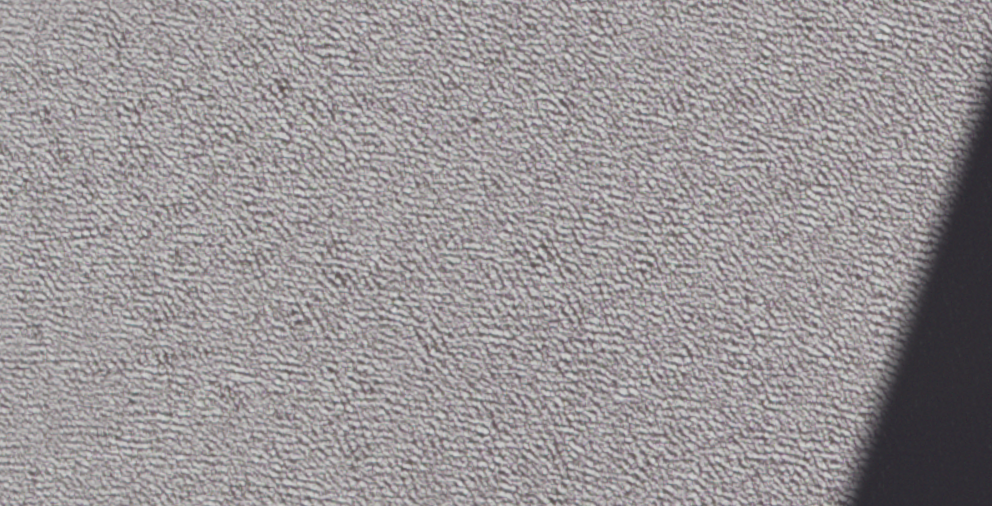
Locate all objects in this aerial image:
river: (876, 253)

